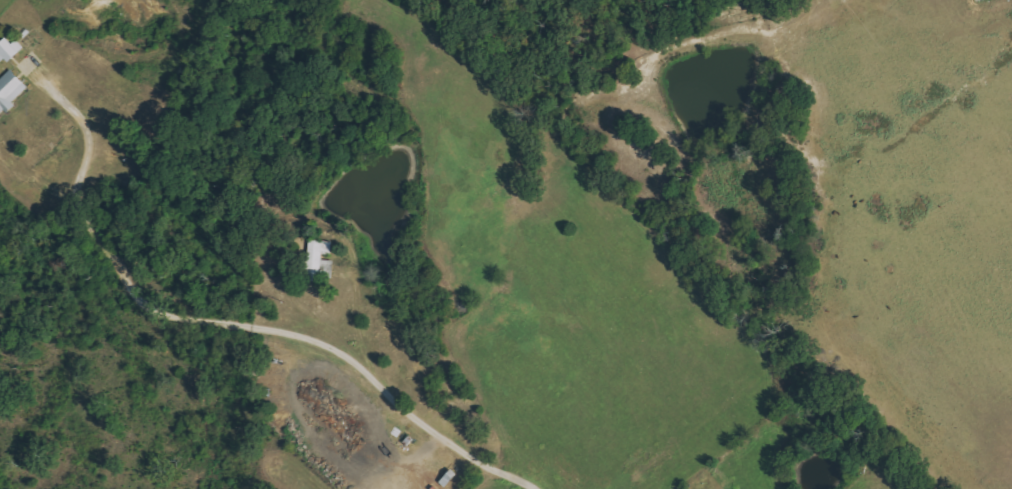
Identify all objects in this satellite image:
building: (11, 49)
building: (12, 90)
building: (322, 259)
road: (232, 319)

